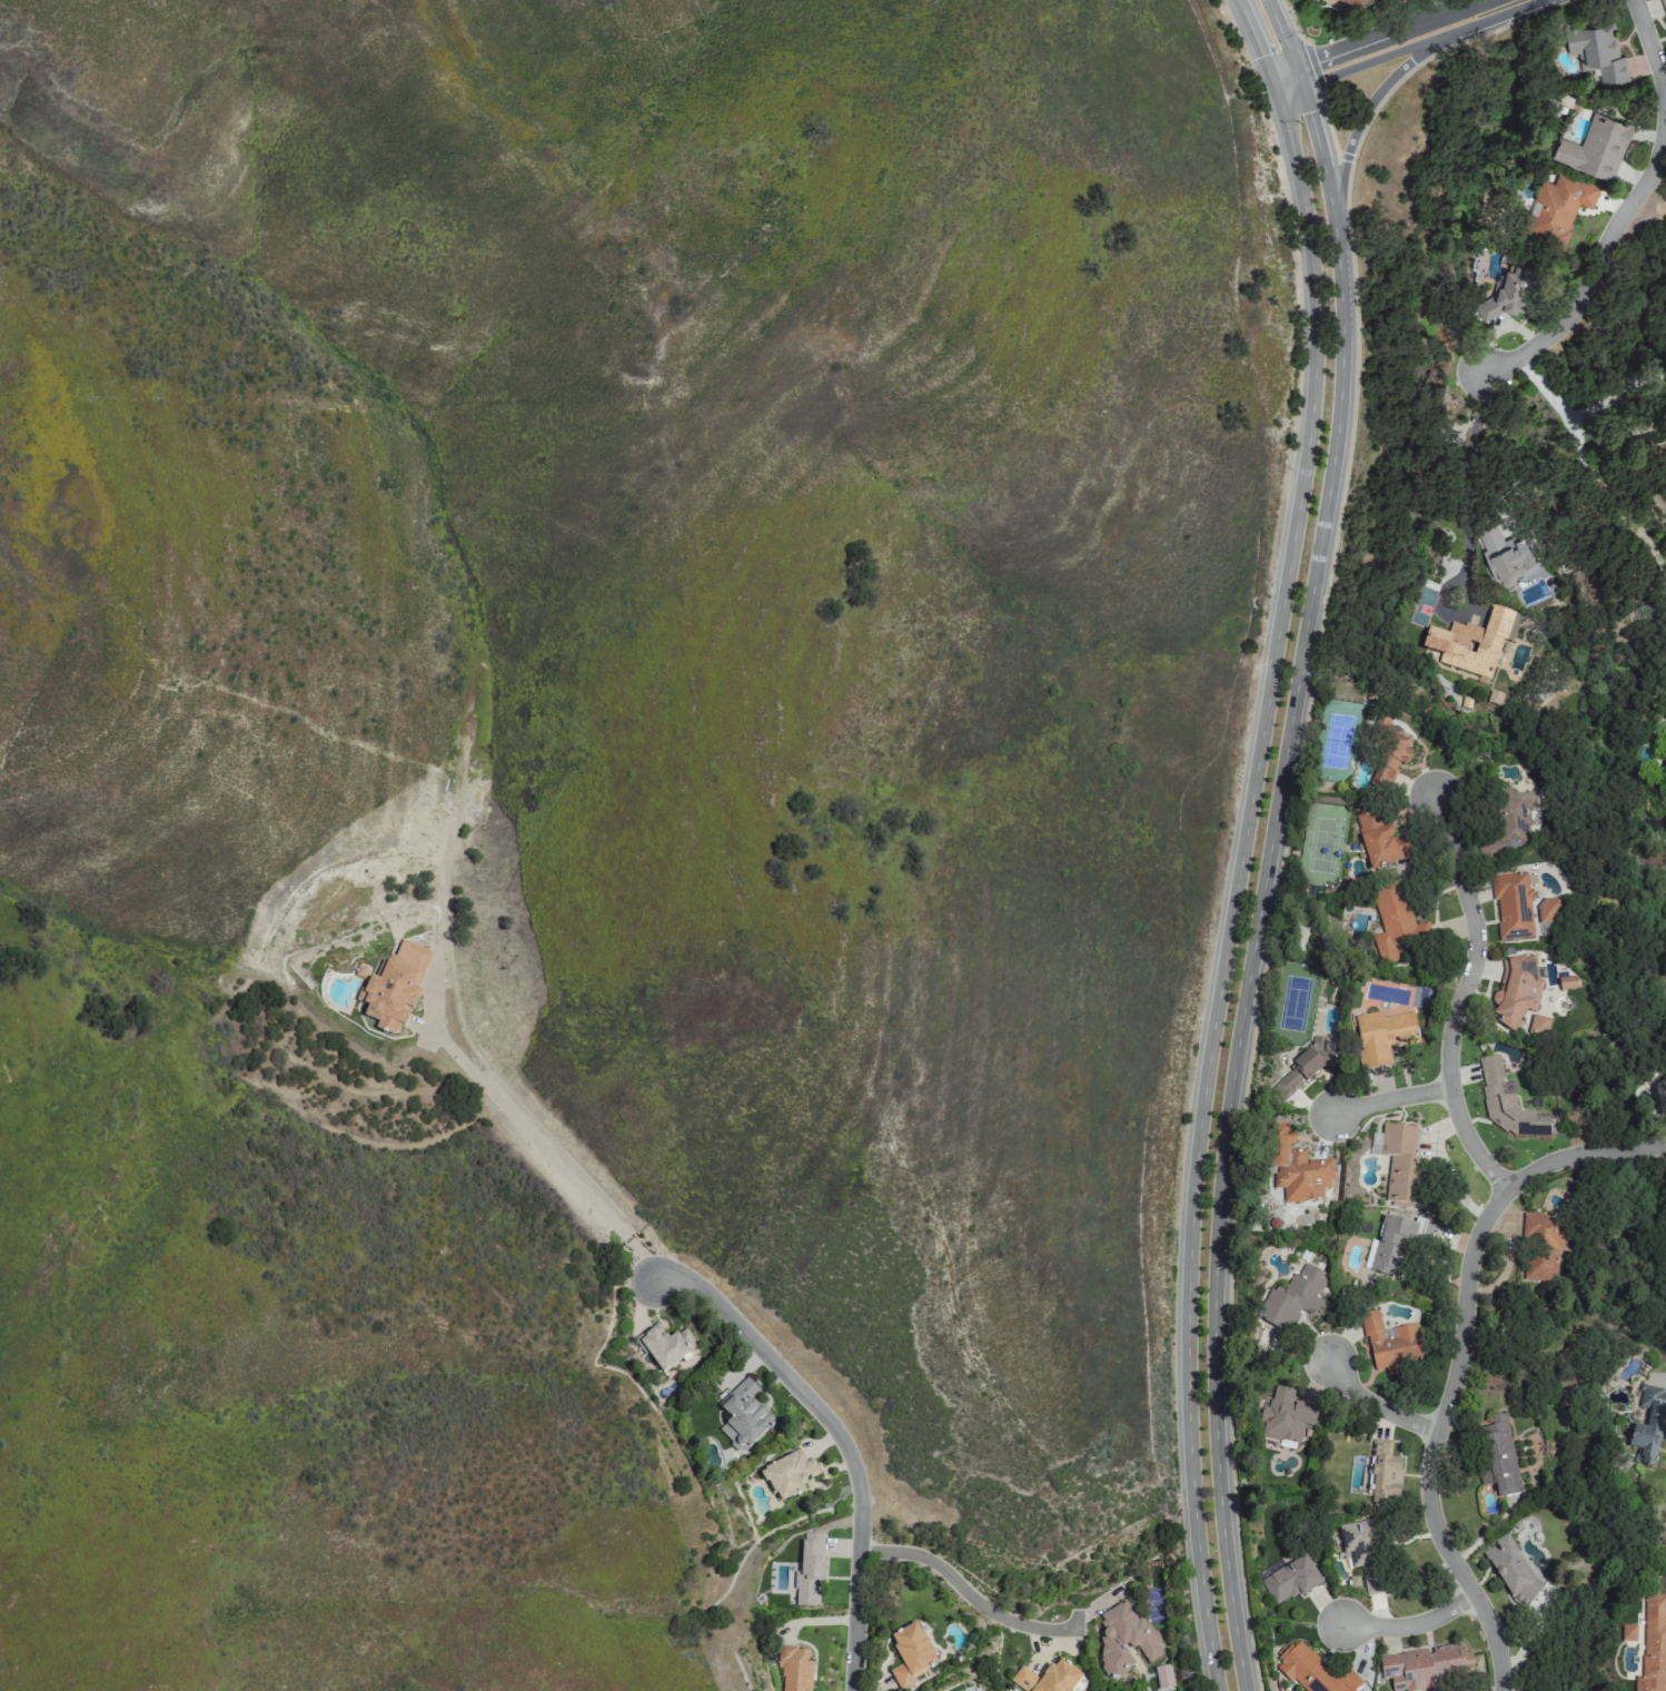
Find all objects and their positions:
road: (1505, 2)
building: (1359, 3)
building: (1664, 6)
road: (1444, 9)
road: (1279, 31)
road: (1394, 33)
road: (1249, 34)
building: (1597, 50)
road: (1400, 51)
road: (1653, 52)
road: (1278, 68)
road: (1295, 75)
road: (1268, 82)
road: (1285, 89)
road: (1348, 132)
building: (1596, 147)
building: (1559, 208)
road: (1599, 273)
building: (1509, 295)
road: (1618, 398)
road: (1624, 433)
road: (1596, 474)
road: (1471, 476)
building: (1506, 556)
building: (1472, 642)
building: (1665, 750)
building: (1390, 754)
building: (1511, 821)
building: (1379, 835)
road: (1255, 884)
road: (1232, 889)
building: (1513, 907)
building: (1548, 908)
building: (1394, 923)
building: (1566, 982)
building: (394, 986)
building: (1515, 988)
road: (1458, 999)
building: (1538, 1026)
building: (1381, 1036)
building: (1305, 1067)
road: (1388, 1098)
building: (1504, 1105)
road: (559, 1165)
building: (1401, 1165)
building: (1297, 1168)
building: (1396, 1242)
building: (1541, 1246)
building: (1291, 1298)
building: (1389, 1344)
building: (666, 1347)
road: (1457, 1359)
road: (1372, 1402)
building: (1286, 1415)
building: (743, 1416)
building: (1648, 1426)
building: (1499, 1455)
road: (852, 1461)
building: (1382, 1474)
building: (787, 1475)
building: (1363, 1553)
building: (809, 1571)
building: (1511, 1571)
building: (1289, 1580)
road: (966, 1590)
road: (1411, 1624)
building: (1124, 1640)
building: (1653, 1644)
building: (910, 1655)
building: (1424, 1667)
building: (794, 1668)
building: (1312, 1671)
building: (1048, 1678)

